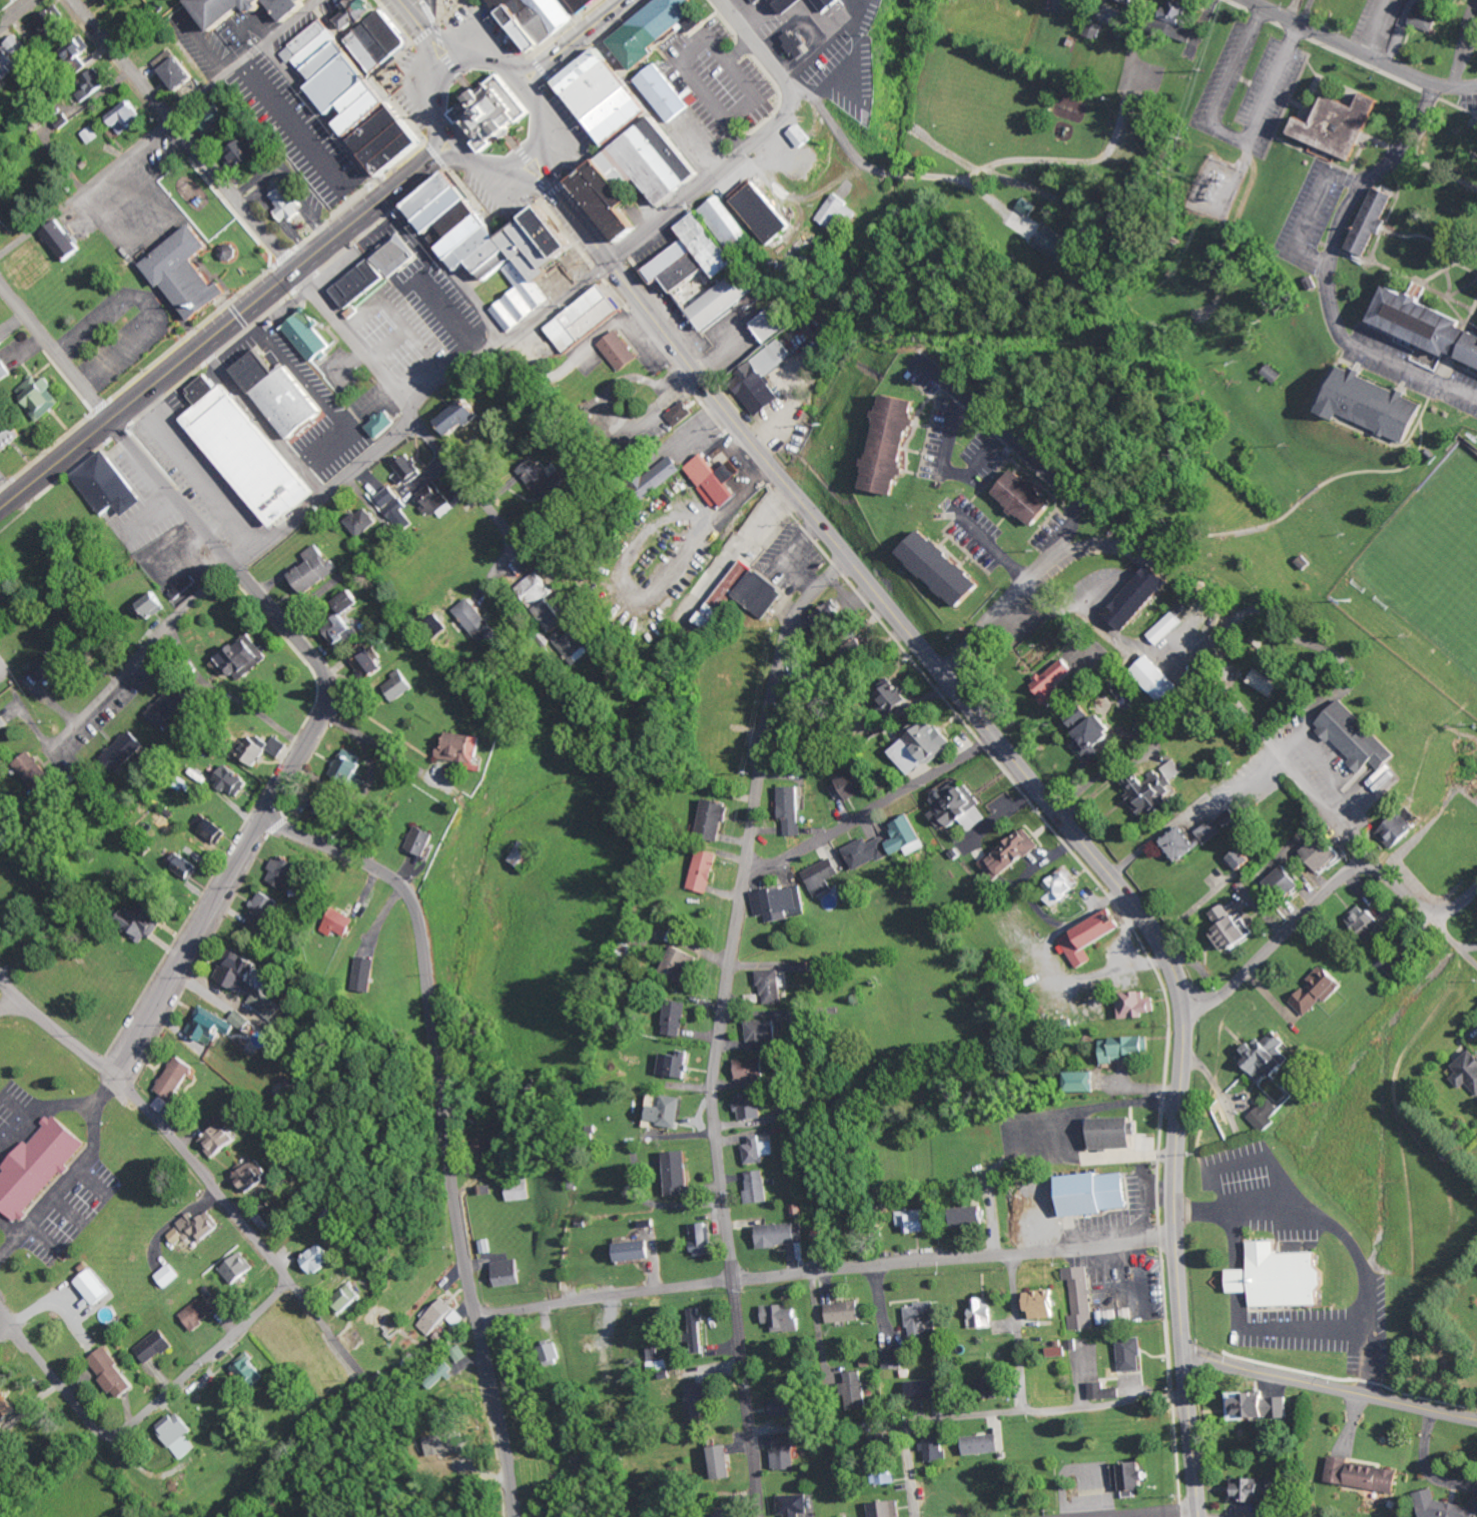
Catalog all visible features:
building: (111, 0)
building: (759, 1)
building: (1132, 1)
building: (585, 4)
building: (790, 4)
building: (774, 5)
building: (827, 5)
building: (294, 7)
building: (229, 9)
road: (15, 12)
building: (1427, 17)
building: (540, 18)
building: (1182, 20)
road: (415, 22)
building: (49, 24)
road: (589, 26)
building: (651, 29)
building: (1095, 29)
building: (378, 32)
building: (307, 40)
building: (799, 44)
building: (80, 48)
road: (1359, 52)
road: (453, 55)
building: (12, 58)
road: (440, 64)
road: (531, 65)
building: (178, 69)
road: (543, 76)
road: (452, 77)
building: (95, 82)
road: (520, 83)
building: (664, 93)
building: (607, 94)
building: (367, 106)
building: (486, 112)
road: (537, 112)
building: (129, 117)
building: (1339, 124)
road: (161, 129)
road: (1228, 133)
building: (92, 135)
building: (802, 136)
road: (185, 141)
road: (459, 144)
road: (440, 146)
road: (756, 147)
building: (248, 150)
road: (528, 153)
road: (544, 153)
road: (454, 163)
road: (486, 163)
road: (523, 176)
building: (606, 178)
road: (386, 195)
building: (288, 204)
building: (1030, 206)
building: (766, 210)
building: (834, 211)
road: (1311, 211)
road: (647, 218)
building: (1374, 220)
building: (1, 222)
building: (64, 240)
building: (1053, 244)
building: (502, 245)
building: (705, 247)
building: (231, 251)
building: (398, 257)
road: (1329, 268)
building: (191, 273)
building: (361, 285)
building: (725, 298)
building: (588, 318)
building: (1428, 323)
building: (772, 325)
building: (312, 336)
building: (1, 339)
road: (217, 343)
road: (202, 346)
building: (621, 351)
road: (58, 353)
building: (4, 369)
building: (1275, 373)
building: (763, 378)
building: (284, 394)
building: (44, 395)
building: (1378, 404)
building: (1, 410)
building: (683, 414)
road: (412, 416)
building: (467, 416)
building: (383, 424)
building: (10, 435)
building: (894, 446)
building: (249, 450)
building: (412, 467)
building: (669, 471)
building: (542, 480)
building: (715, 480)
building: (110, 484)
road: (329, 495)
building: (389, 496)
building: (1031, 498)
building: (438, 500)
building: (399, 512)
building: (364, 522)
building: (944, 569)
building: (316, 570)
road: (1025, 585)
building: (538, 587)
building: (743, 595)
building: (0, 596)
building: (1144, 597)
building: (352, 600)
building: (154, 604)
building: (553, 615)
building: (827, 616)
building: (480, 623)
building: (1168, 629)
building: (346, 631)
building: (577, 644)
building: (245, 658)
building: (370, 664)
building: (48, 667)
building: (1156, 682)
building: (405, 683)
building: (1055, 683)
building: (1266, 683)
building: (895, 698)
building: (170, 706)
building: (3, 722)
building: (1093, 732)
road: (312, 737)
building: (1360, 738)
building: (924, 747)
building: (264, 748)
building: (460, 748)
building: (124, 752)
building: (349, 766)
building: (1175, 770)
building: (234, 779)
building: (852, 785)
road: (1034, 789)
building: (1151, 793)
building: (954, 803)
building: (325, 804)
road: (1323, 807)
building: (792, 809)
road: (868, 811)
building: (1234, 817)
building: (714, 820)
building: (209, 829)
building: (1400, 830)
building: (1213, 832)
building: (909, 836)
building: (424, 841)
building: (1184, 845)
building: (867, 852)
building: (1327, 852)
building: (526, 854)
building: (1014, 855)
building: (1245, 859)
building: (186, 866)
building: (706, 871)
building: (286, 873)
building: (823, 876)
building: (1288, 880)
building: (1063, 888)
road: (1322, 898)
building: (780, 903)
building: (265, 913)
building: (1365, 918)
building: (146, 921)
building: (343, 923)
building: (1234, 927)
building: (1090, 938)
road: (1453, 938)
building: (682, 964)
building: (803, 967)
building: (367, 972)
building: (251, 983)
building: (774, 987)
building: (1320, 991)
road: (9, 1005)
building: (1138, 1005)
building: (678, 1018)
building: (243, 1020)
building: (212, 1026)
road: (719, 1026)
building: (763, 1035)
building: (1124, 1049)
building: (1269, 1056)
building: (676, 1064)
building: (750, 1069)
building: (1467, 1071)
building: (178, 1078)
building: (1085, 1082)
building: (163, 1104)
building: (751, 1107)
building: (670, 1112)
building: (1267, 1115)
road: (446, 1125)
building: (1117, 1133)
building: (222, 1140)
building: (487, 1147)
building: (758, 1150)
building: (39, 1167)
building: (678, 1173)
road: (202, 1174)
building: (257, 1177)
building: (758, 1187)
building: (1098, 1194)
building: (969, 1217)
building: (916, 1221)
building: (197, 1229)
building: (784, 1235)
building: (704, 1241)
building: (637, 1251)
building: (322, 1259)
building: (241, 1270)
road: (825, 1271)
building: (508, 1273)
building: (170, 1276)
building: (1284, 1278)
building: (96, 1288)
building: (350, 1296)
building: (1081, 1297)
building: (1046, 1304)
building: (846, 1312)
building: (202, 1313)
building: (984, 1314)
building: (441, 1317)
building: (783, 1317)
building: (1110, 1317)
building: (924, 1319)
building: (698, 1331)
road: (6, 1333)
road: (1018, 1333)
building: (155, 1346)
building: (1058, 1349)
building: (553, 1354)
building: (459, 1355)
building: (1132, 1355)
building: (893, 1359)
building: (657, 1360)
building: (251, 1370)
building: (449, 1371)
building: (114, 1374)
building: (993, 1388)
road: (1330, 1388)
building: (929, 1389)
building: (857, 1392)
building: (1106, 1392)
building: (697, 1404)
building: (8, 1407)
building: (783, 1407)
building: (1261, 1407)
road: (1002, 1414)
road: (138, 1418)
building: (179, 1435)
building: (450, 1445)
building: (985, 1445)
building: (936, 1448)
building: (785, 1454)
building: (723, 1462)
building: (885, 1475)
building: (1366, 1476)
building: (1135, 1478)
building: (1253, 1491)
building: (795, 1506)
building: (1444, 1507)
building: (887, 1509)
road: (1140, 1512)
building: (728, 1515)

